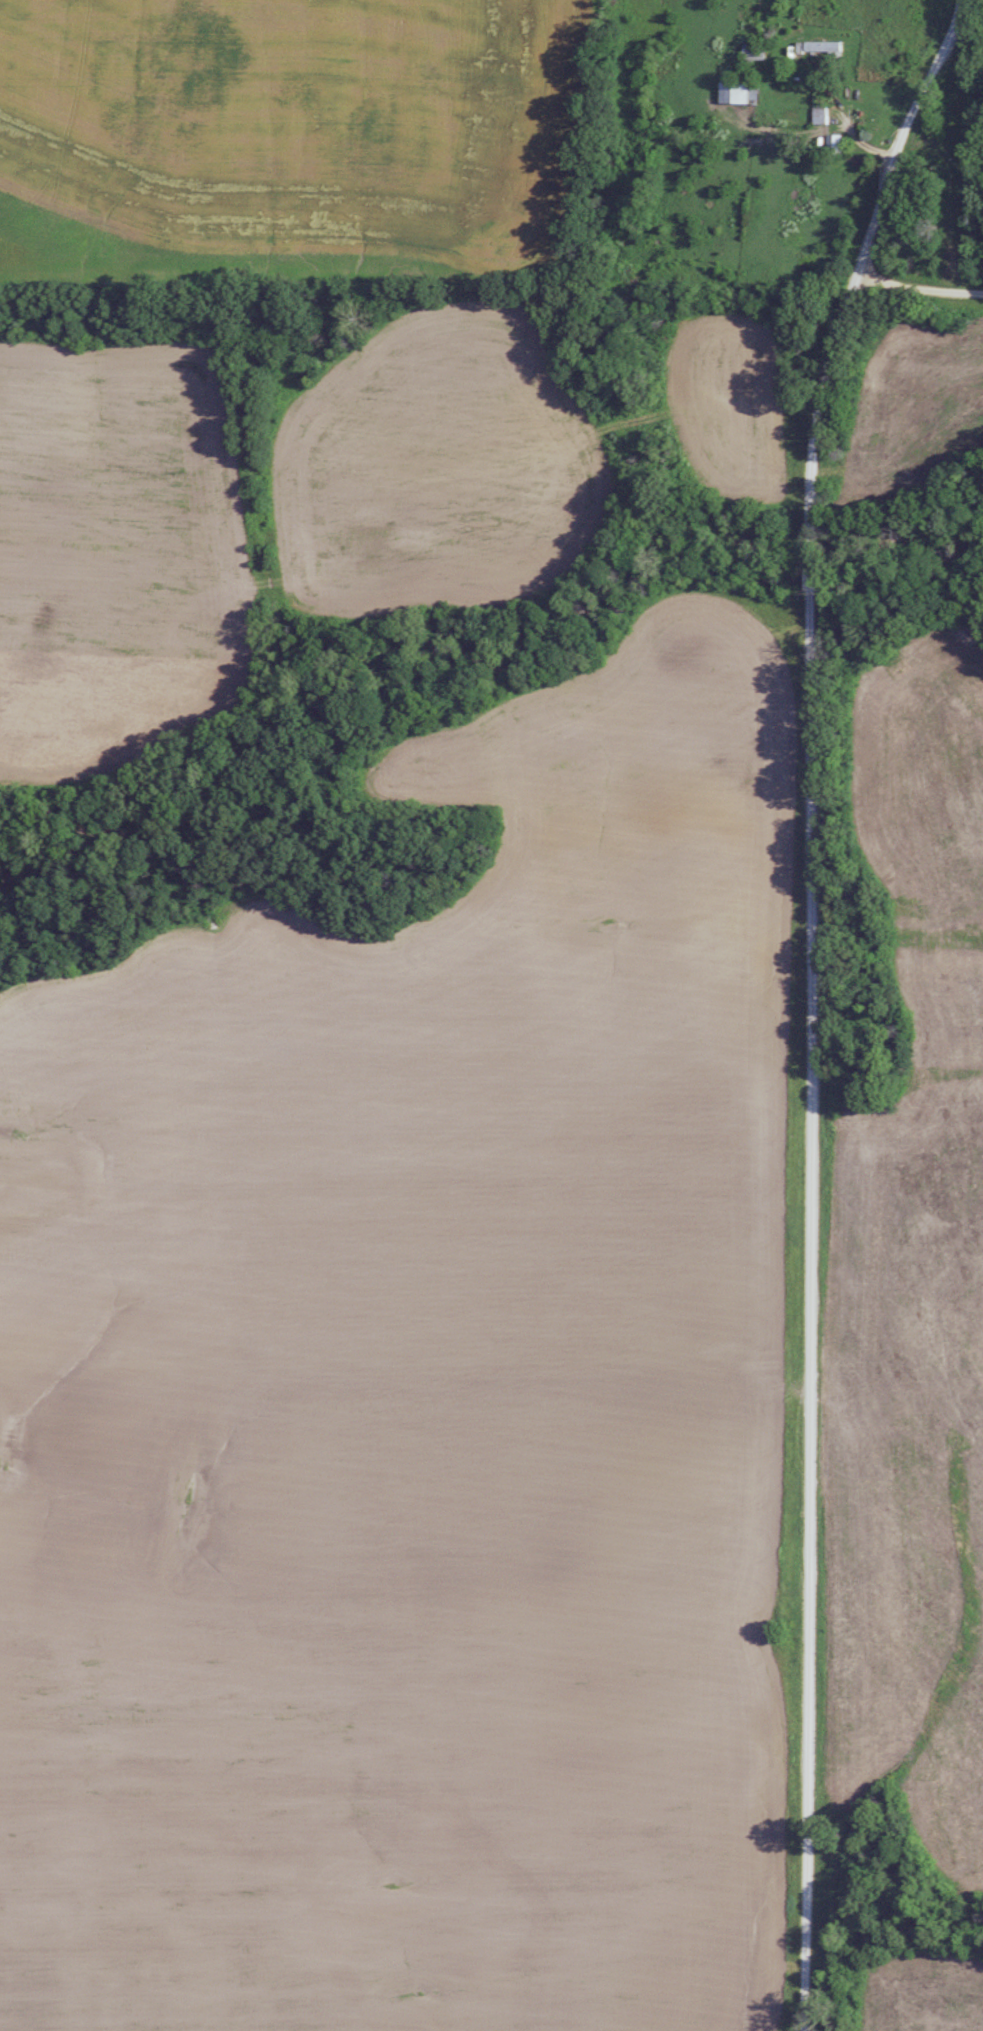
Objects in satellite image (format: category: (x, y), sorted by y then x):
building: (821, 46)
building: (738, 92)
building: (818, 115)
road: (920, 286)
road: (811, 1000)

